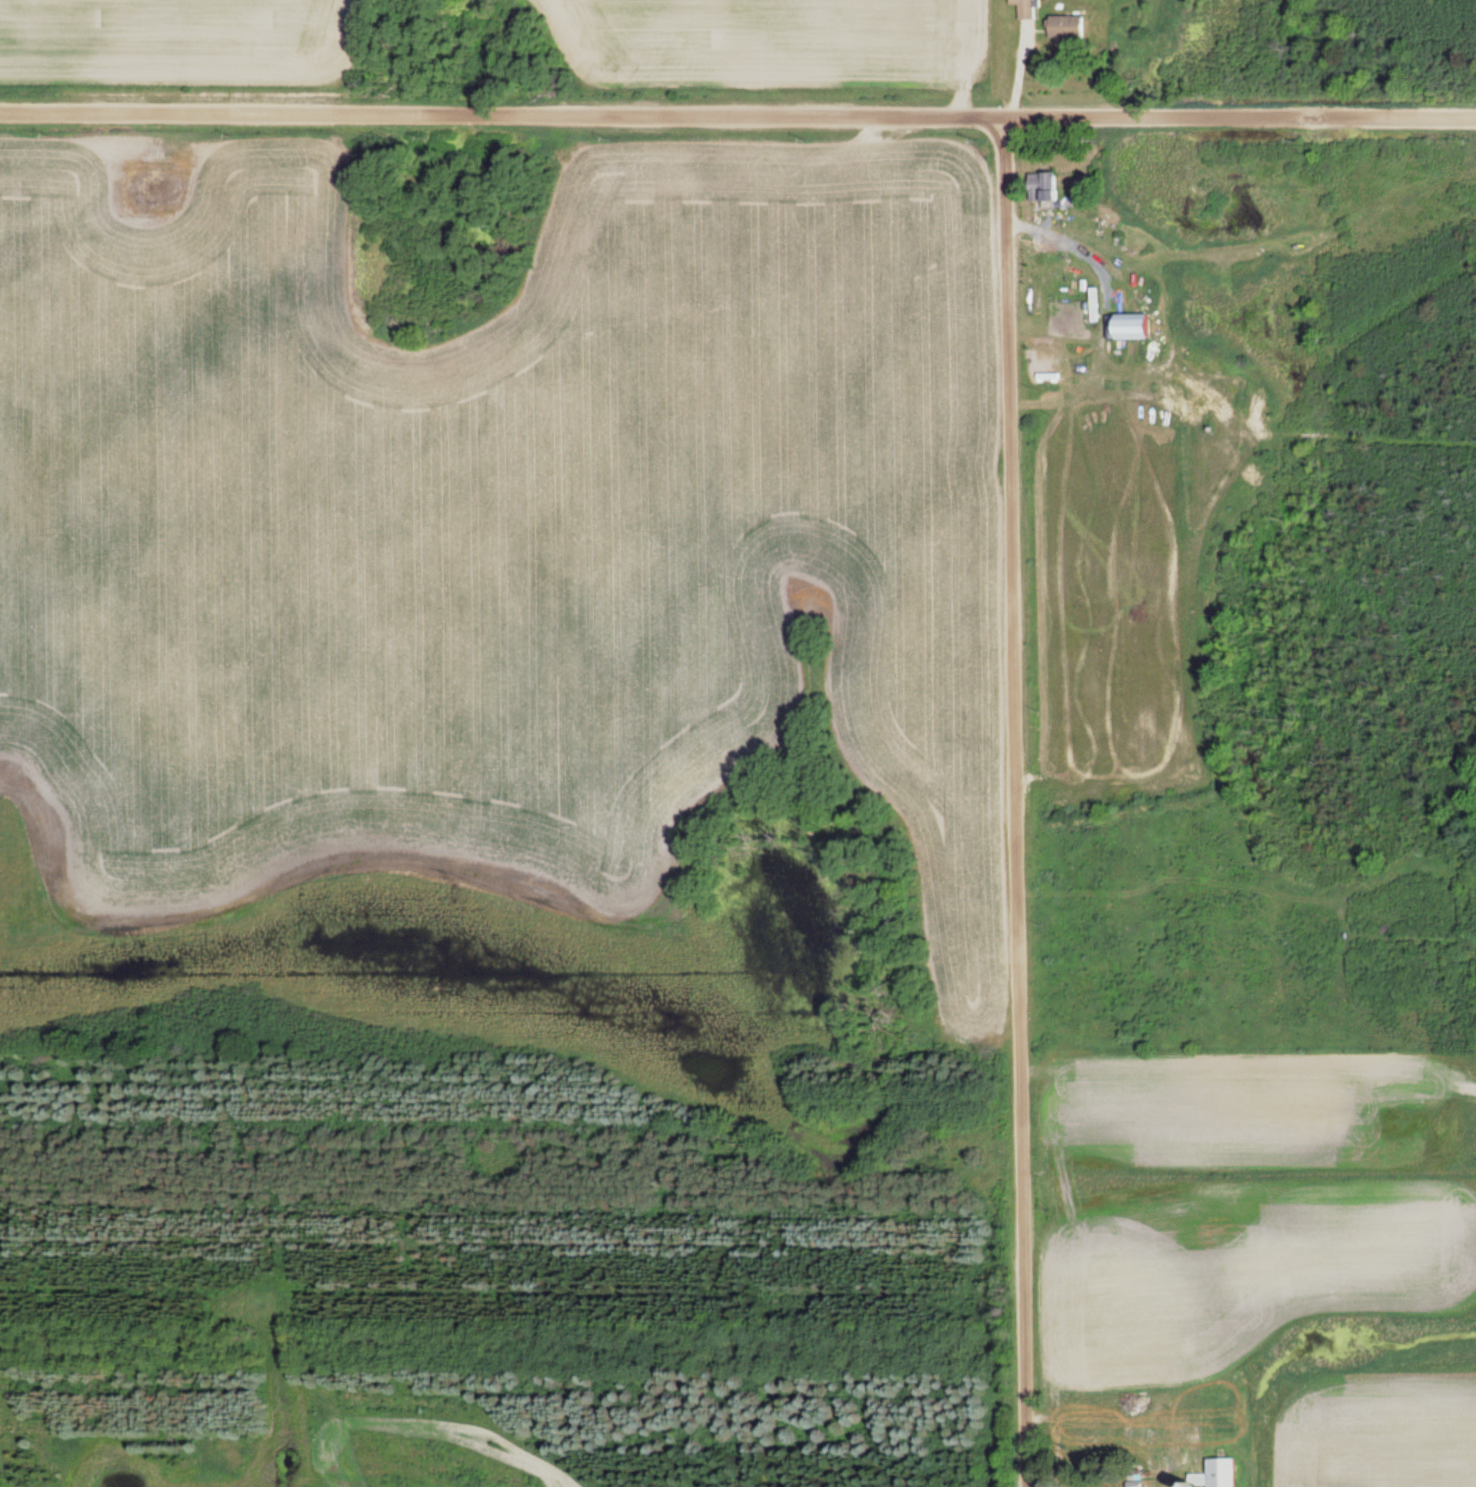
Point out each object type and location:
building: (1023, 8)
building: (1063, 26)
road: (737, 113)
building: (1042, 185)
building: (1128, 325)
road: (1014, 802)
building: (1219, 1472)

